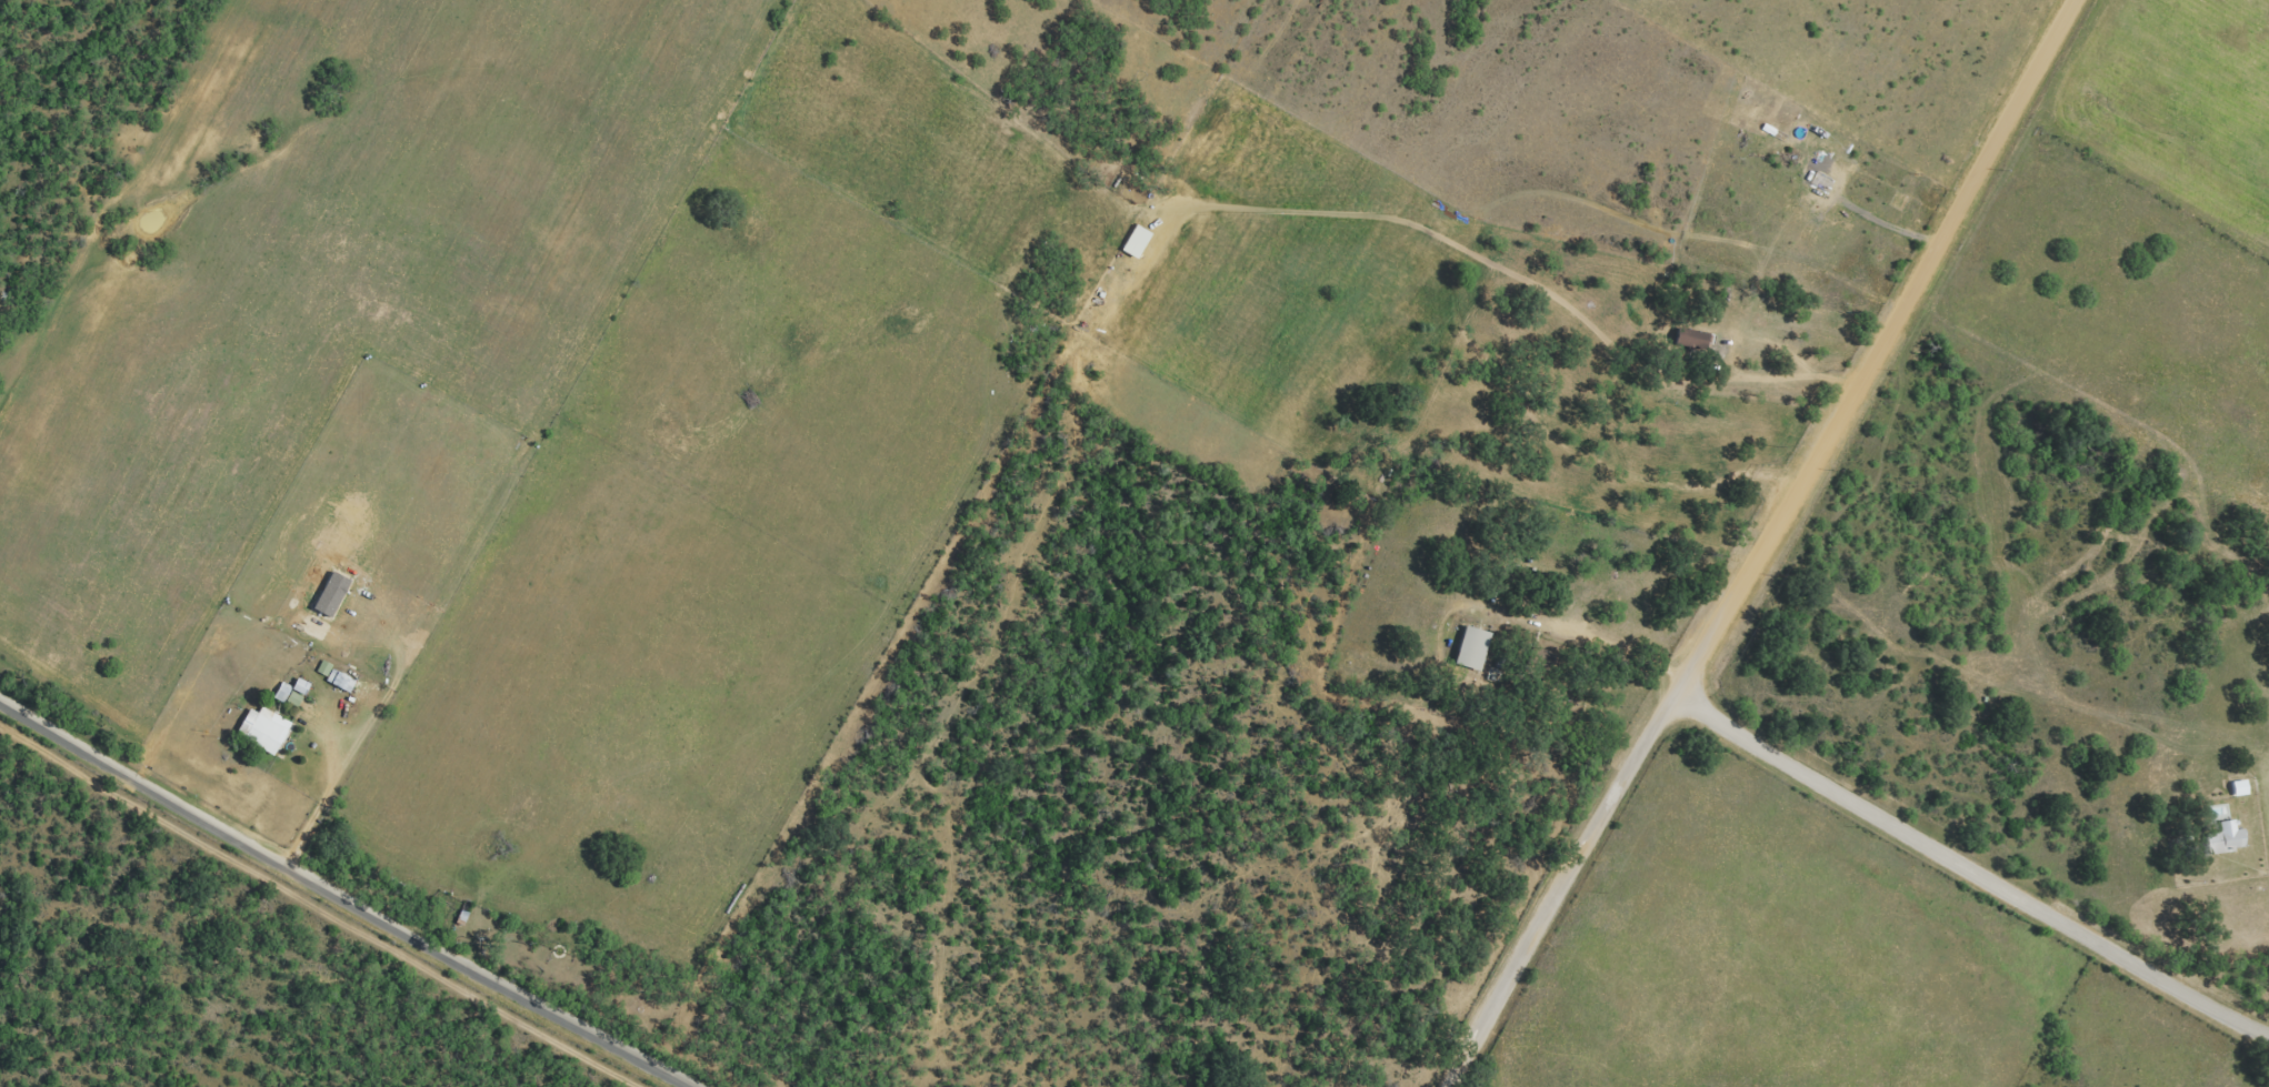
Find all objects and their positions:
building: (1691, 338)
road: (1876, 349)
road: (1718, 365)
road: (1610, 646)
building: (1470, 647)
building: (334, 676)
building: (287, 691)
building: (261, 728)
road: (324, 806)
building: (2223, 838)
road: (1968, 865)
road: (1558, 890)
road: (339, 902)

